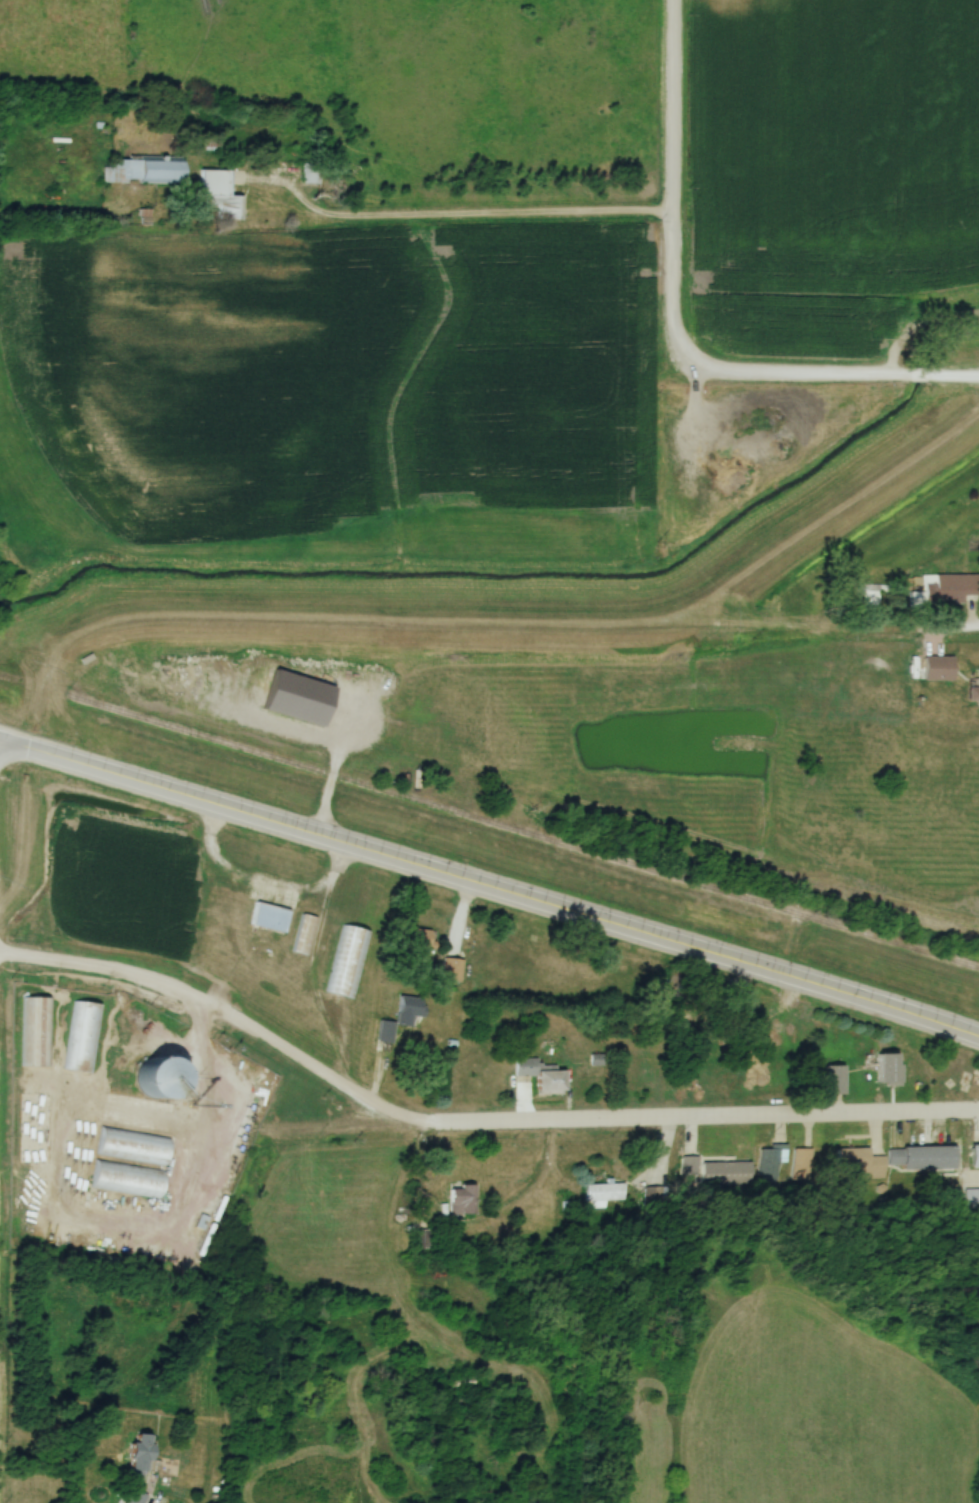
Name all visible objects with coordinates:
building: (145, 171)
road: (671, 185)
building: (220, 194)
road: (498, 218)
road: (833, 377)
building: (947, 590)
building: (872, 595)
road: (500, 612)
building: (937, 669)
building: (973, 687)
road: (490, 885)
road: (259, 889)
building: (269, 917)
building: (305, 935)
building: (419, 939)
building: (350, 963)
building: (400, 1020)
building: (39, 1032)
building: (84, 1038)
building: (888, 1070)
building: (153, 1075)
building: (540, 1076)
building: (834, 1079)
building: (138, 1112)
road: (469, 1121)
road: (270, 1133)
building: (133, 1145)
road: (964, 1152)
building: (975, 1156)
building: (924, 1159)
building: (862, 1164)
building: (807, 1166)
building: (775, 1169)
building: (724, 1172)
building: (128, 1179)
building: (607, 1193)
road: (526, 1194)
building: (462, 1200)
building: (462, 1385)
building: (137, 1454)
building: (137, 1498)

